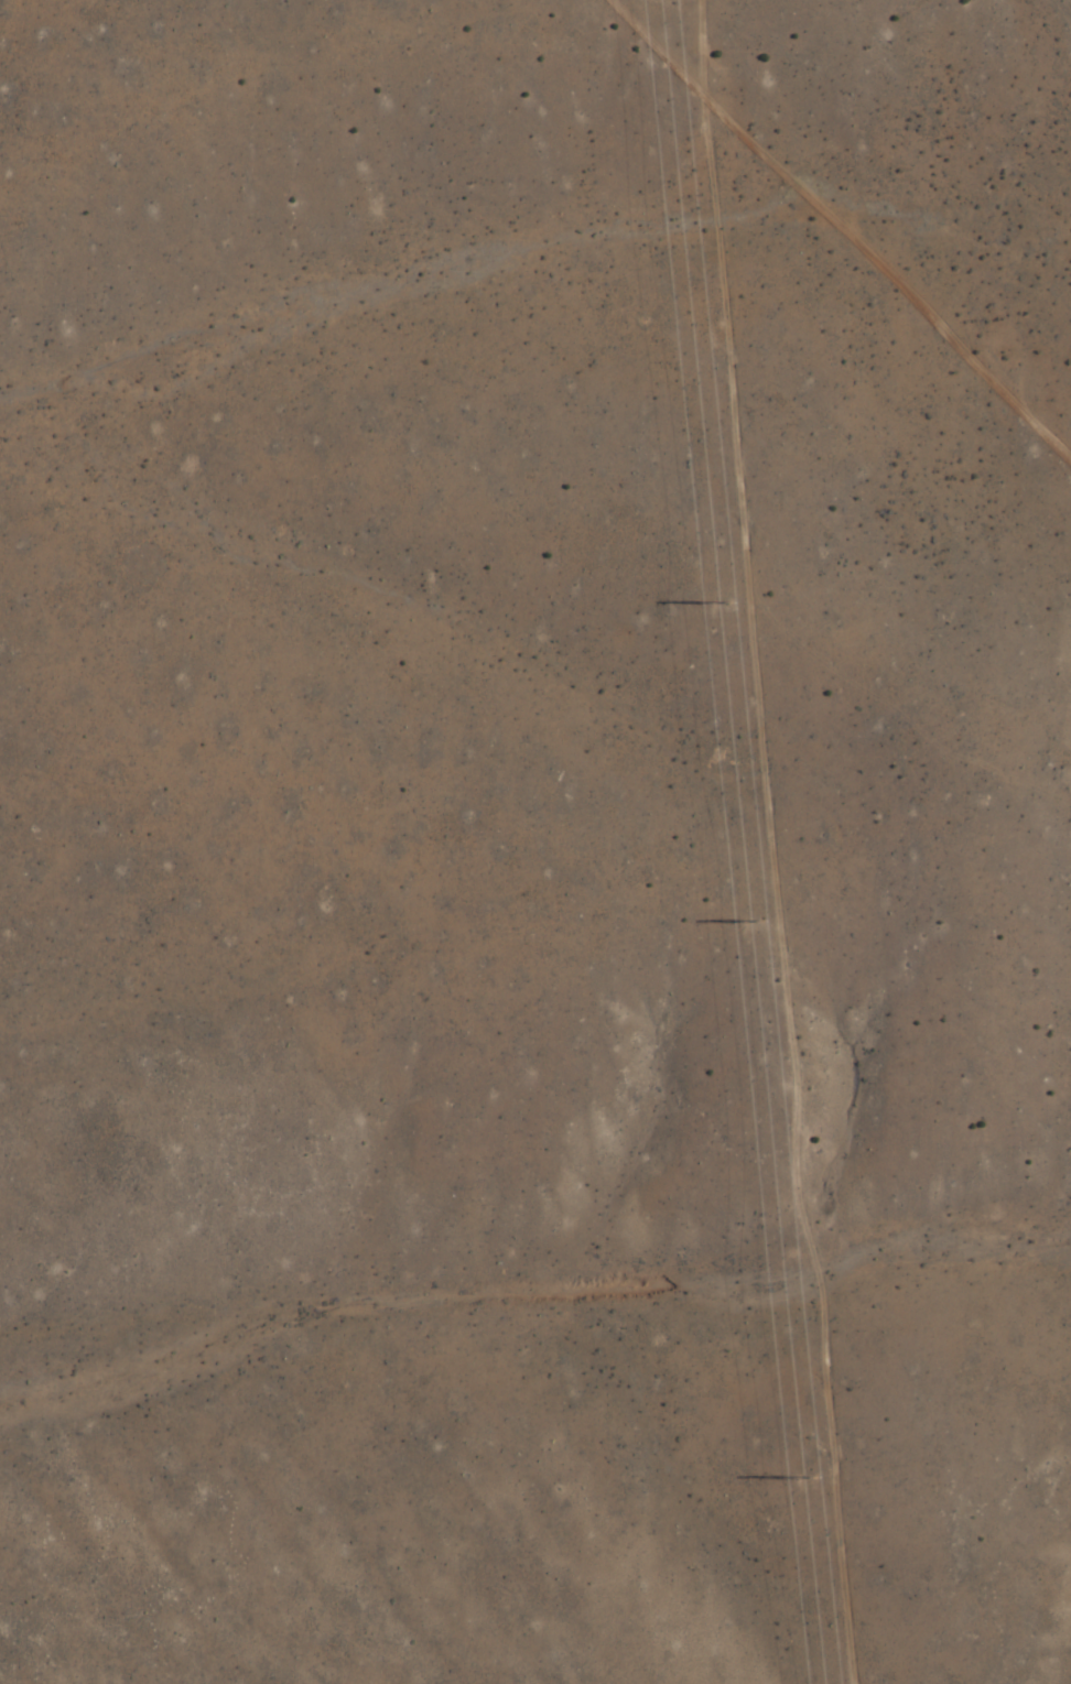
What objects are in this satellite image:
road: (1062, 6)
road: (846, 226)
power tower: (726, 601)
road: (756, 843)
power tower: (758, 921)
power tower: (805, 1475)

